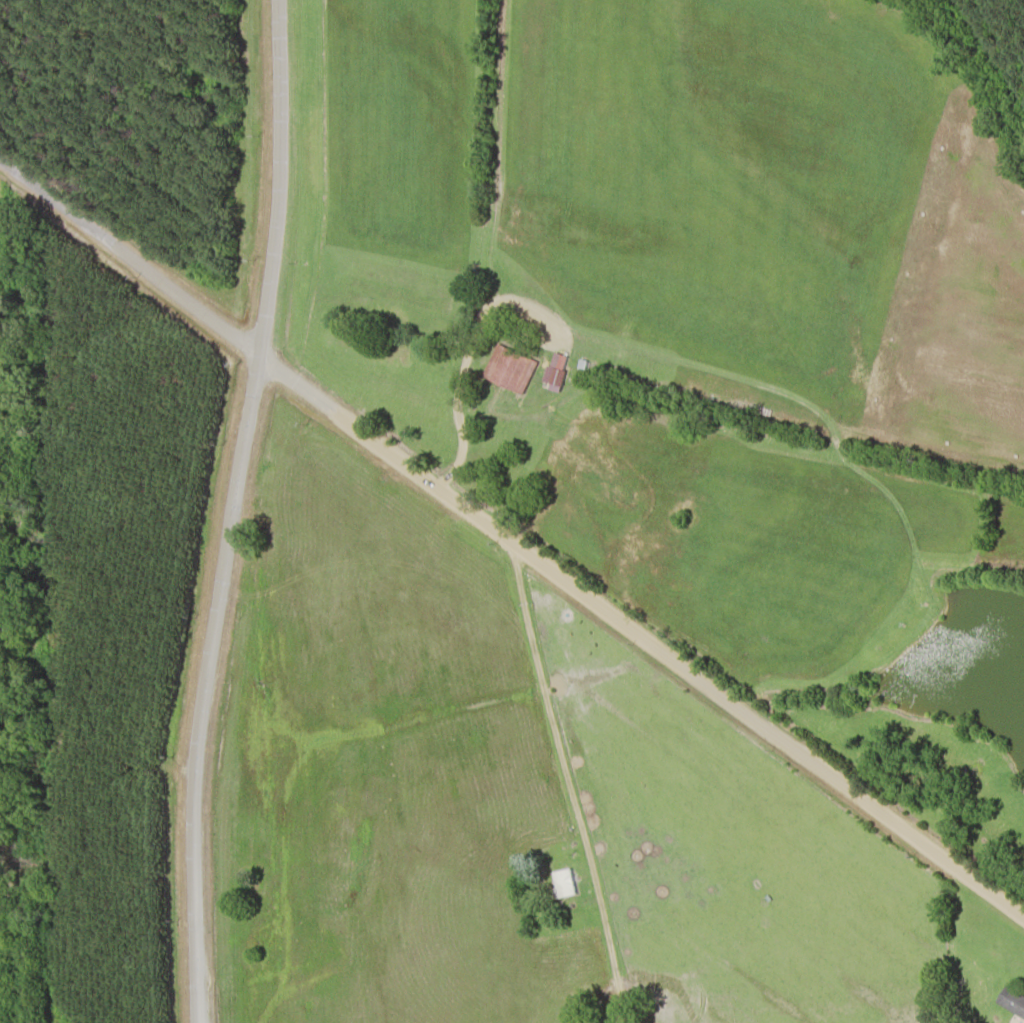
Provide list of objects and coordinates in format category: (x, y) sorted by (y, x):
building: (508, 367)
building: (556, 368)
road: (233, 511)
road: (508, 536)
building: (560, 882)
building: (1010, 1000)

